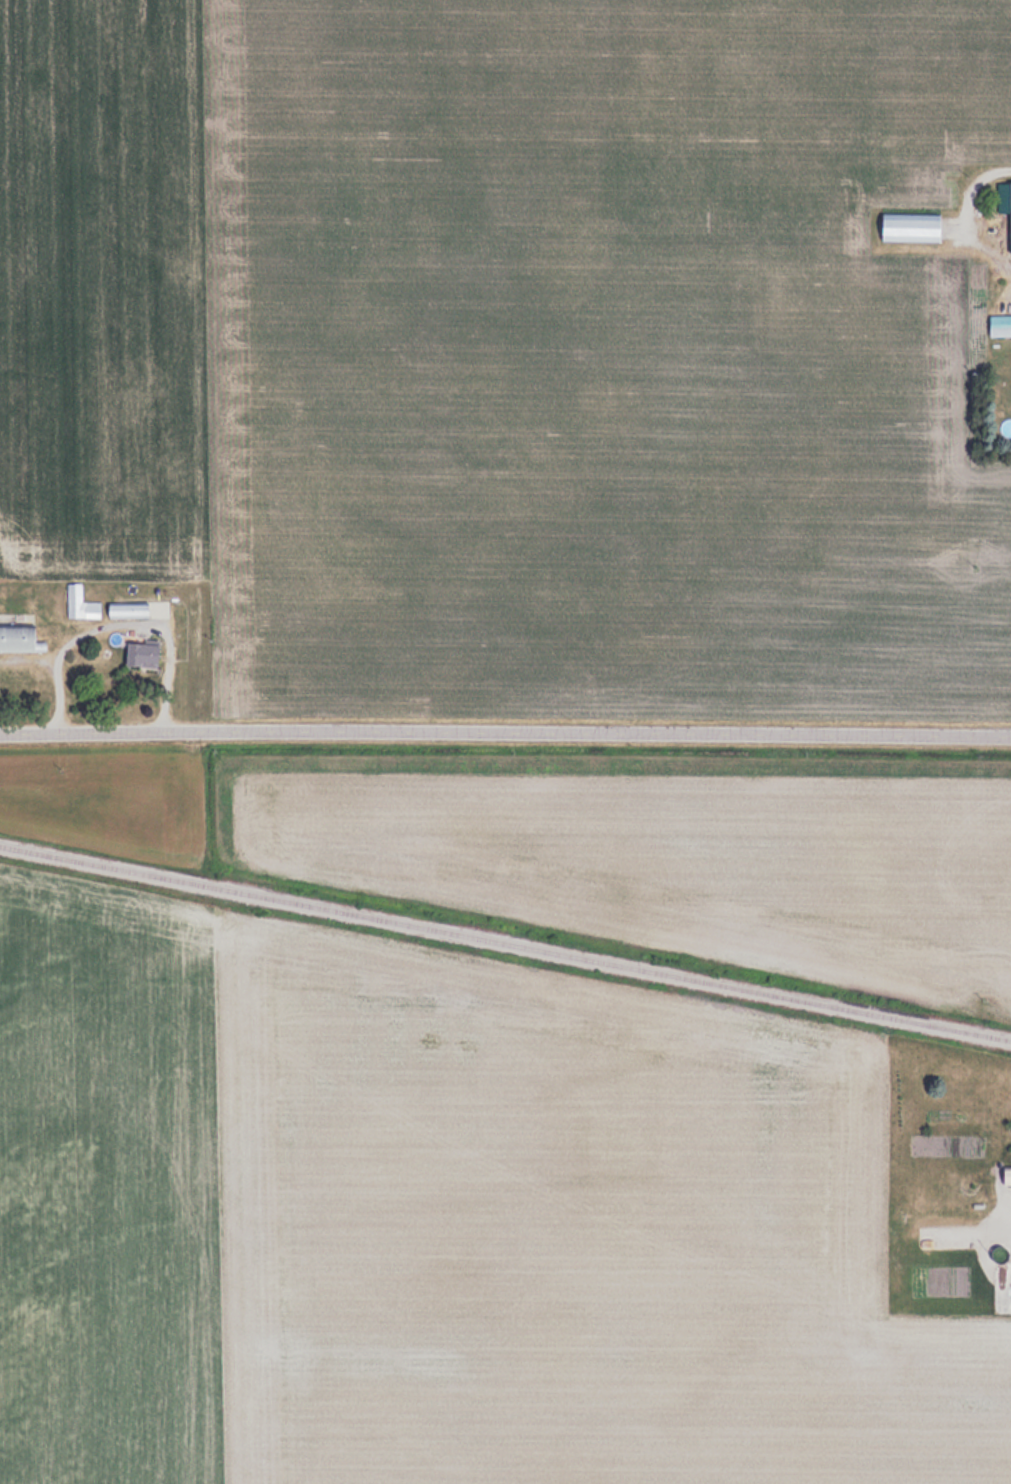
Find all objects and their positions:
building: (1000, 211)
building: (907, 226)
building: (999, 325)
building: (80, 603)
building: (126, 609)
building: (18, 638)
building: (139, 654)
road: (505, 739)
railway: (505, 943)
building: (1005, 1175)
building: (947, 1239)

